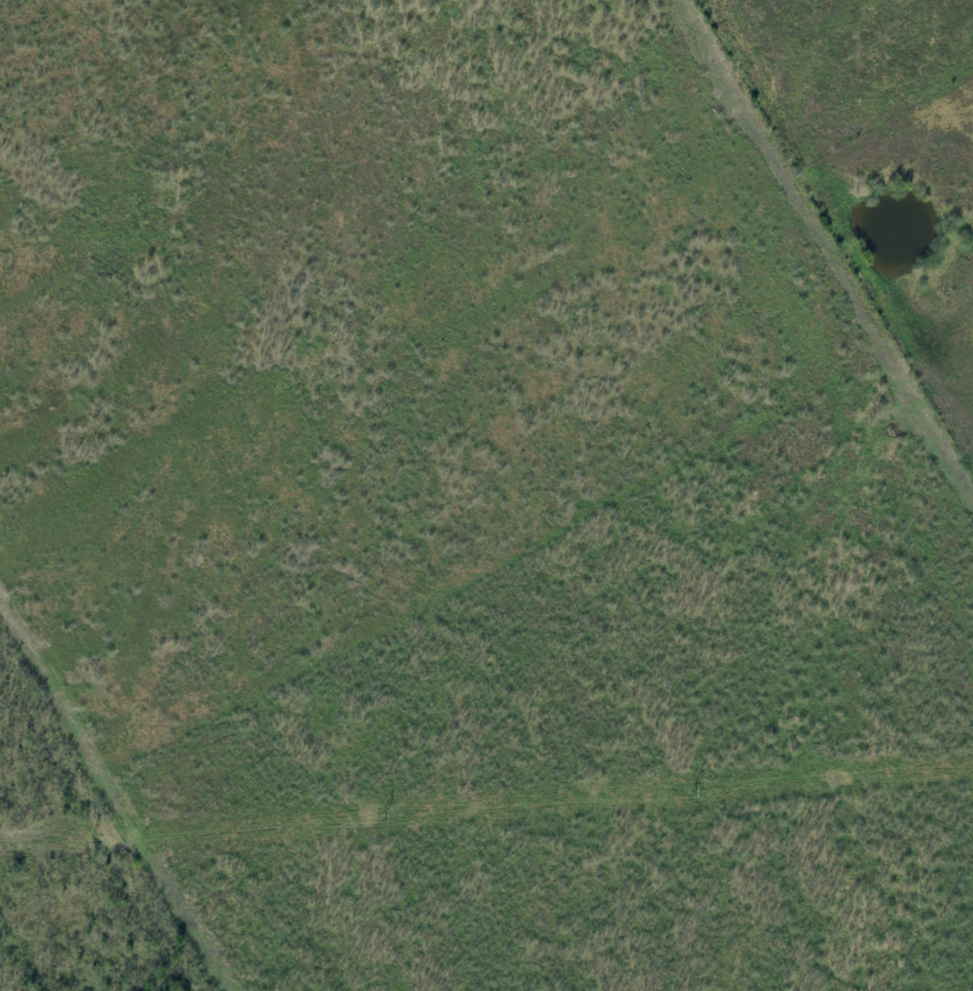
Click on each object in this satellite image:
power tower: (695, 789)
power tower: (384, 815)
power tower: (93, 837)

